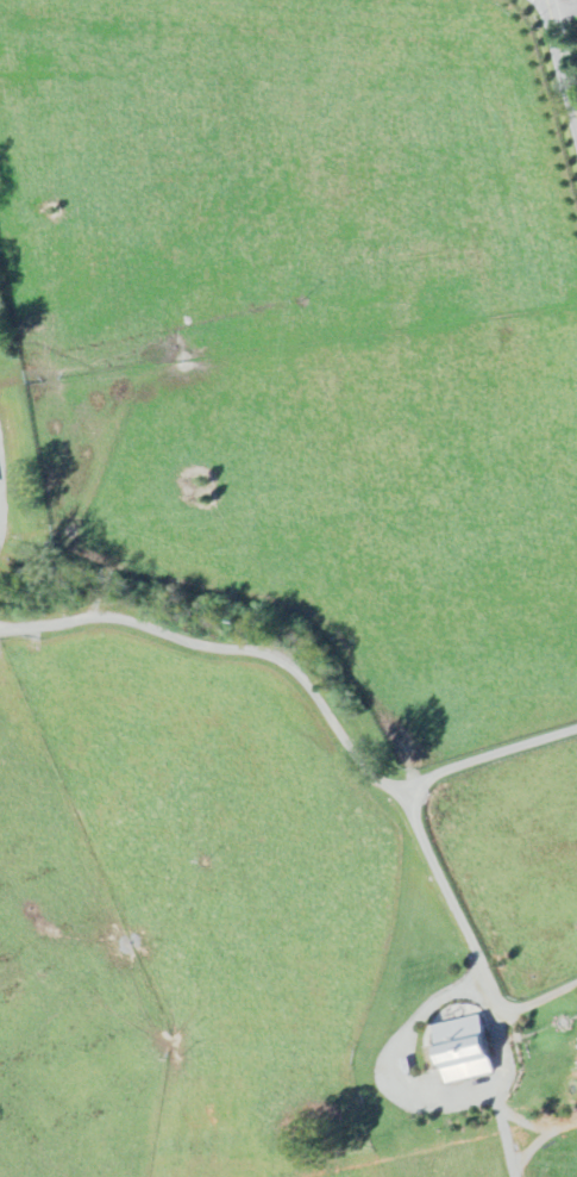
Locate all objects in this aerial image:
road: (565, 4)
road: (564, 51)
road: (230, 646)
road: (487, 756)
road: (459, 941)
building: (469, 1050)
road: (501, 1092)

